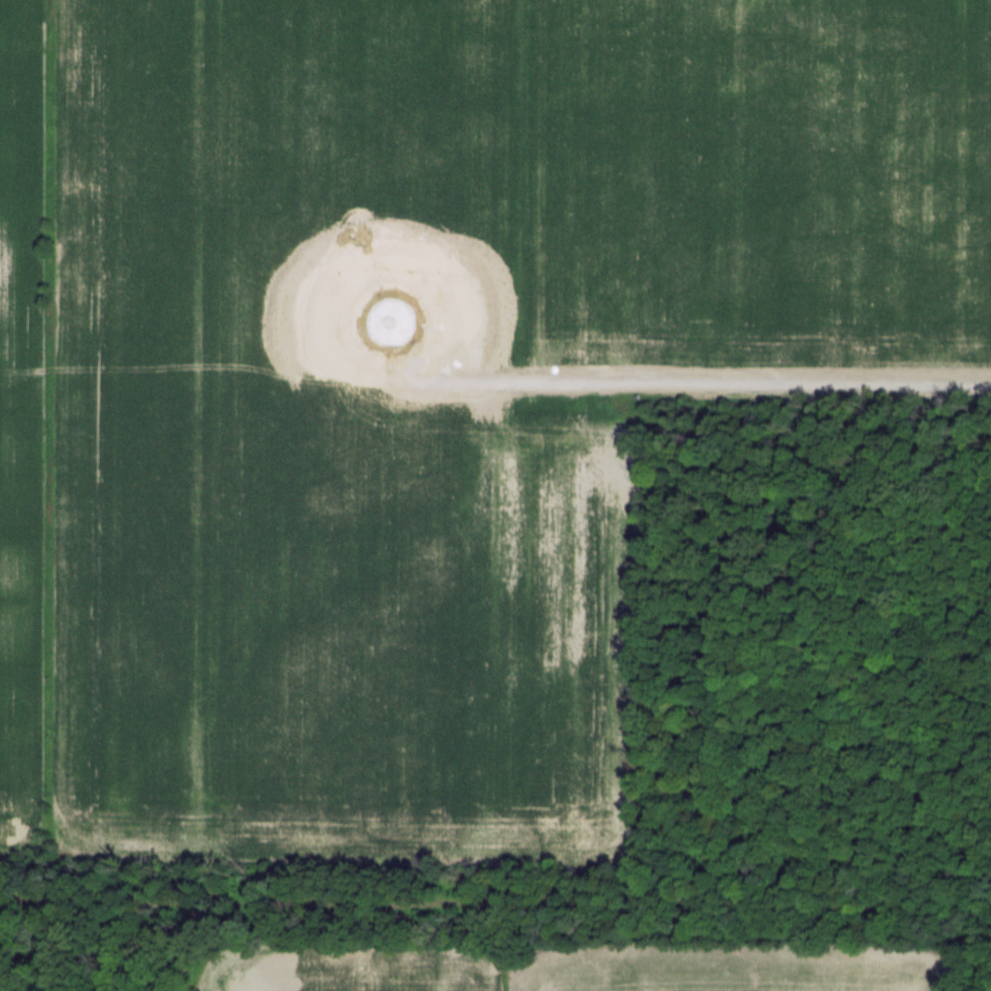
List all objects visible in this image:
wind turbine: (391, 325)
road: (703, 373)
railway: (495, 902)

